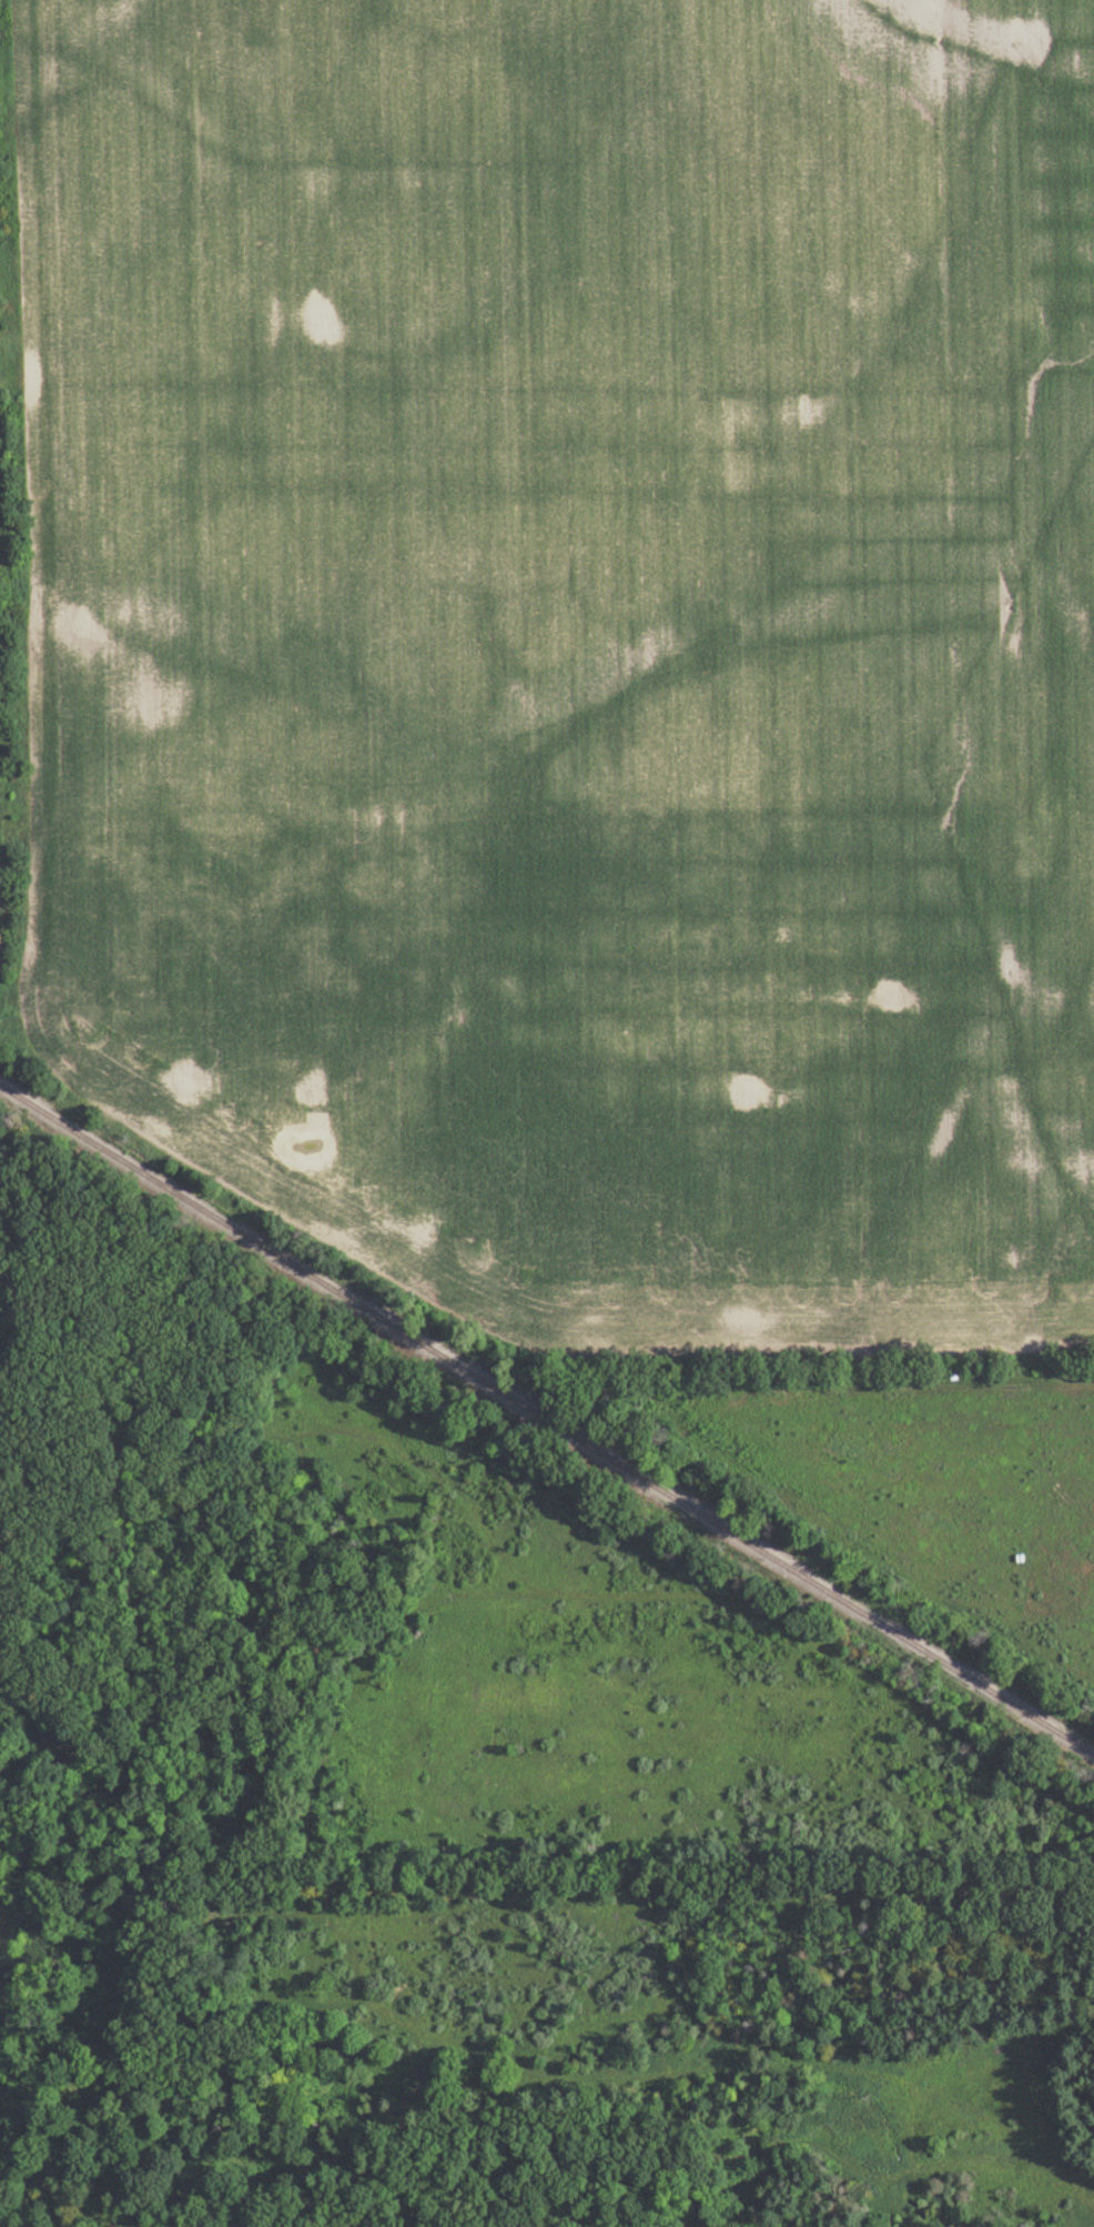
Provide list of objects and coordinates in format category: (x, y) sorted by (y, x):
railway: (547, 1414)

